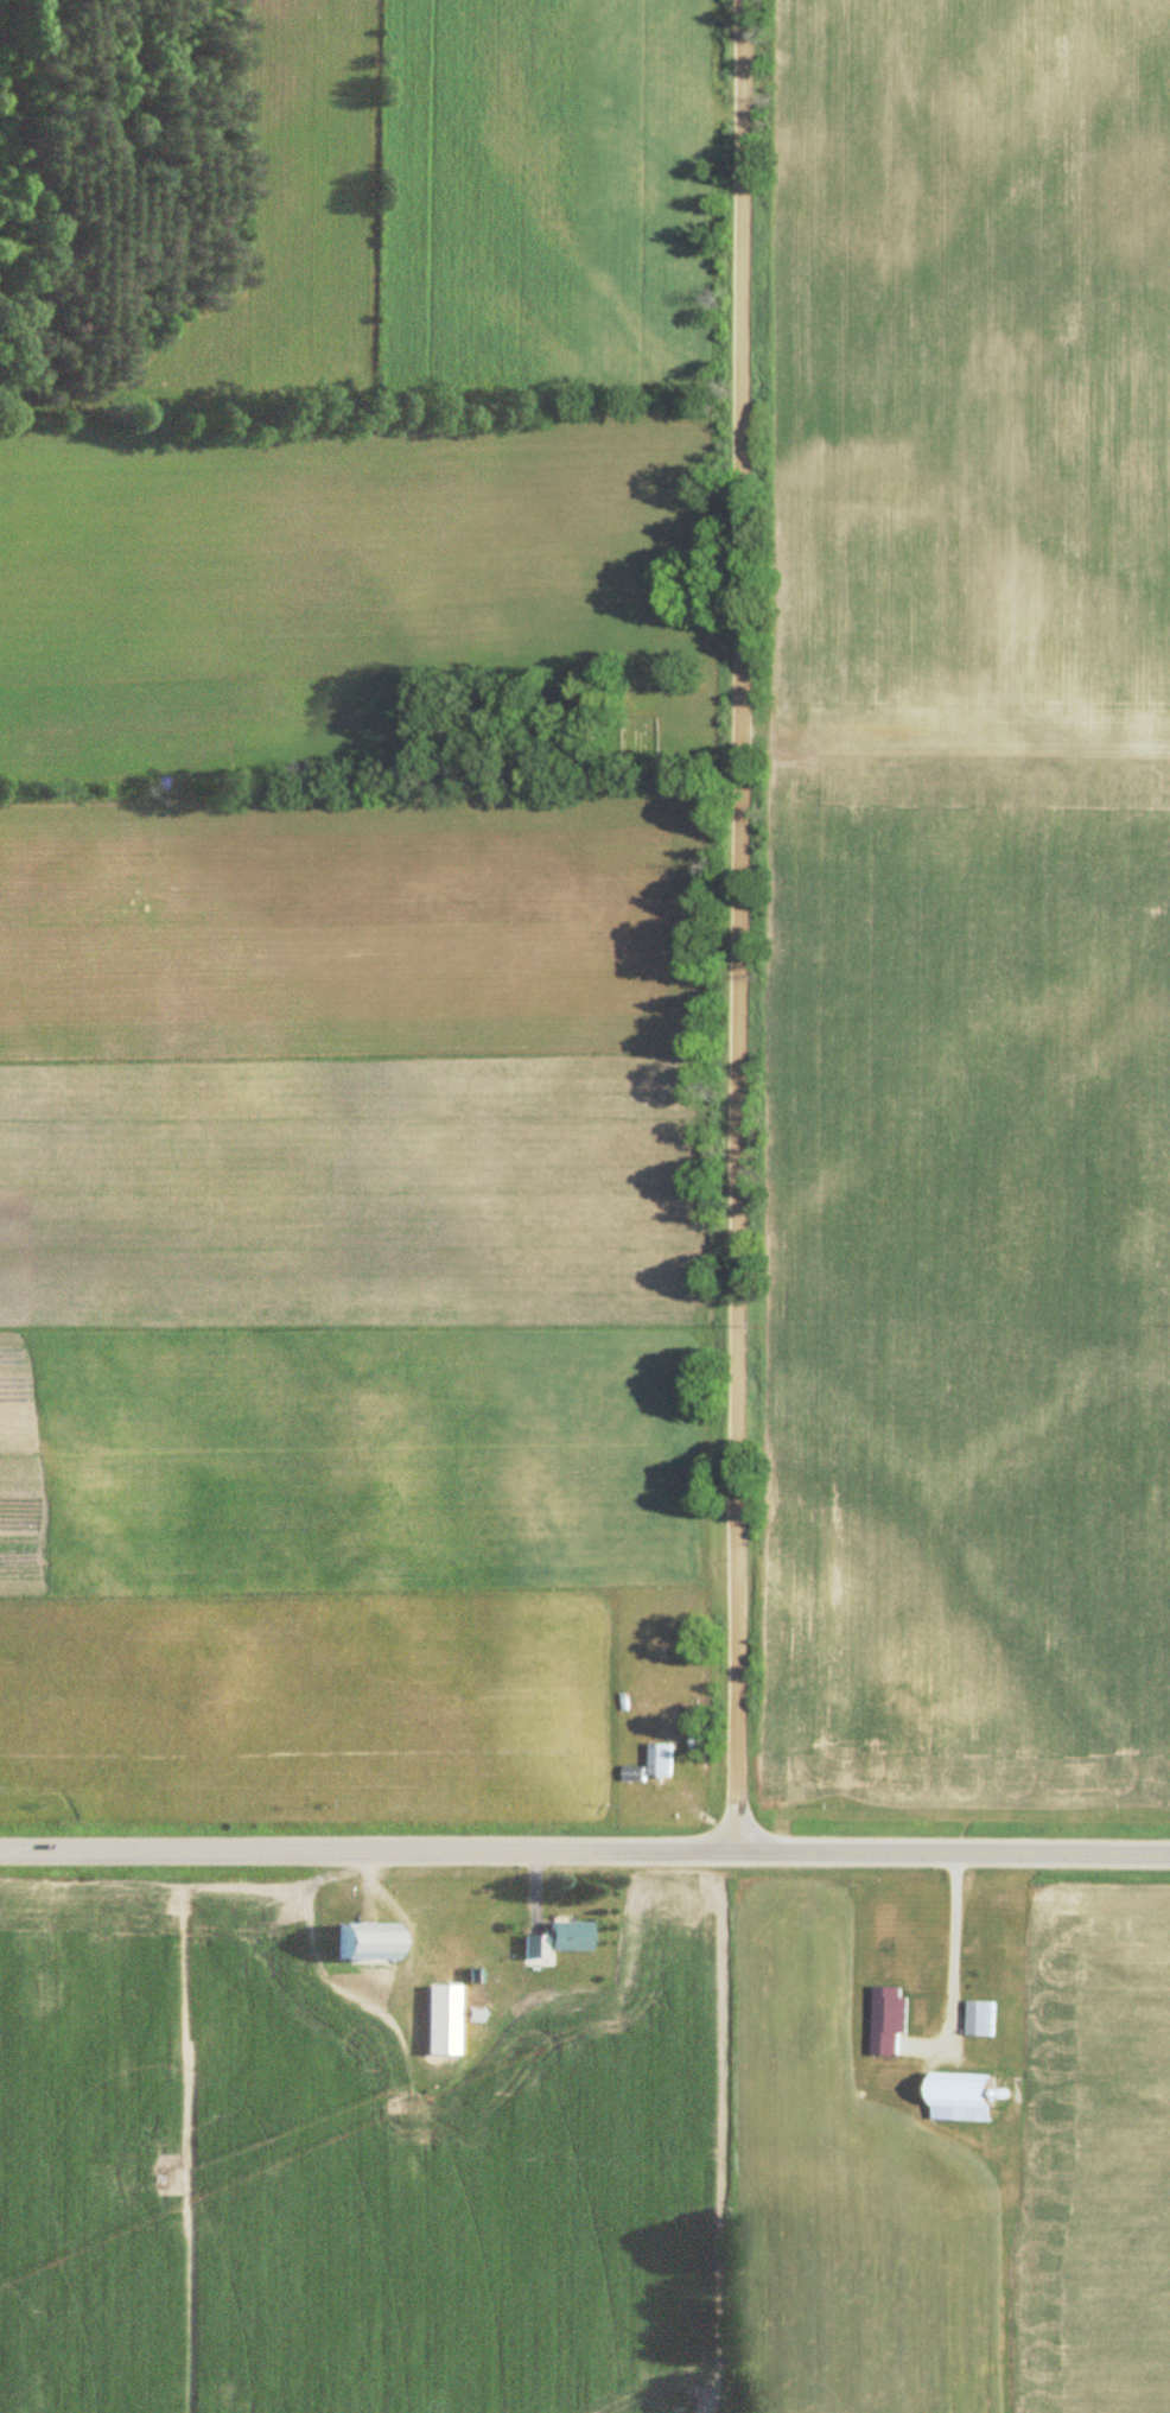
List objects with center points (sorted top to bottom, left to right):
crop: (959, 913)
road: (737, 922)
building: (656, 1759)
road: (585, 1846)
building: (552, 1938)
building: (357, 1942)
road: (960, 1945)
building: (440, 2019)
building: (977, 2019)
building: (886, 2028)
building: (885, 2079)
building: (955, 2097)

